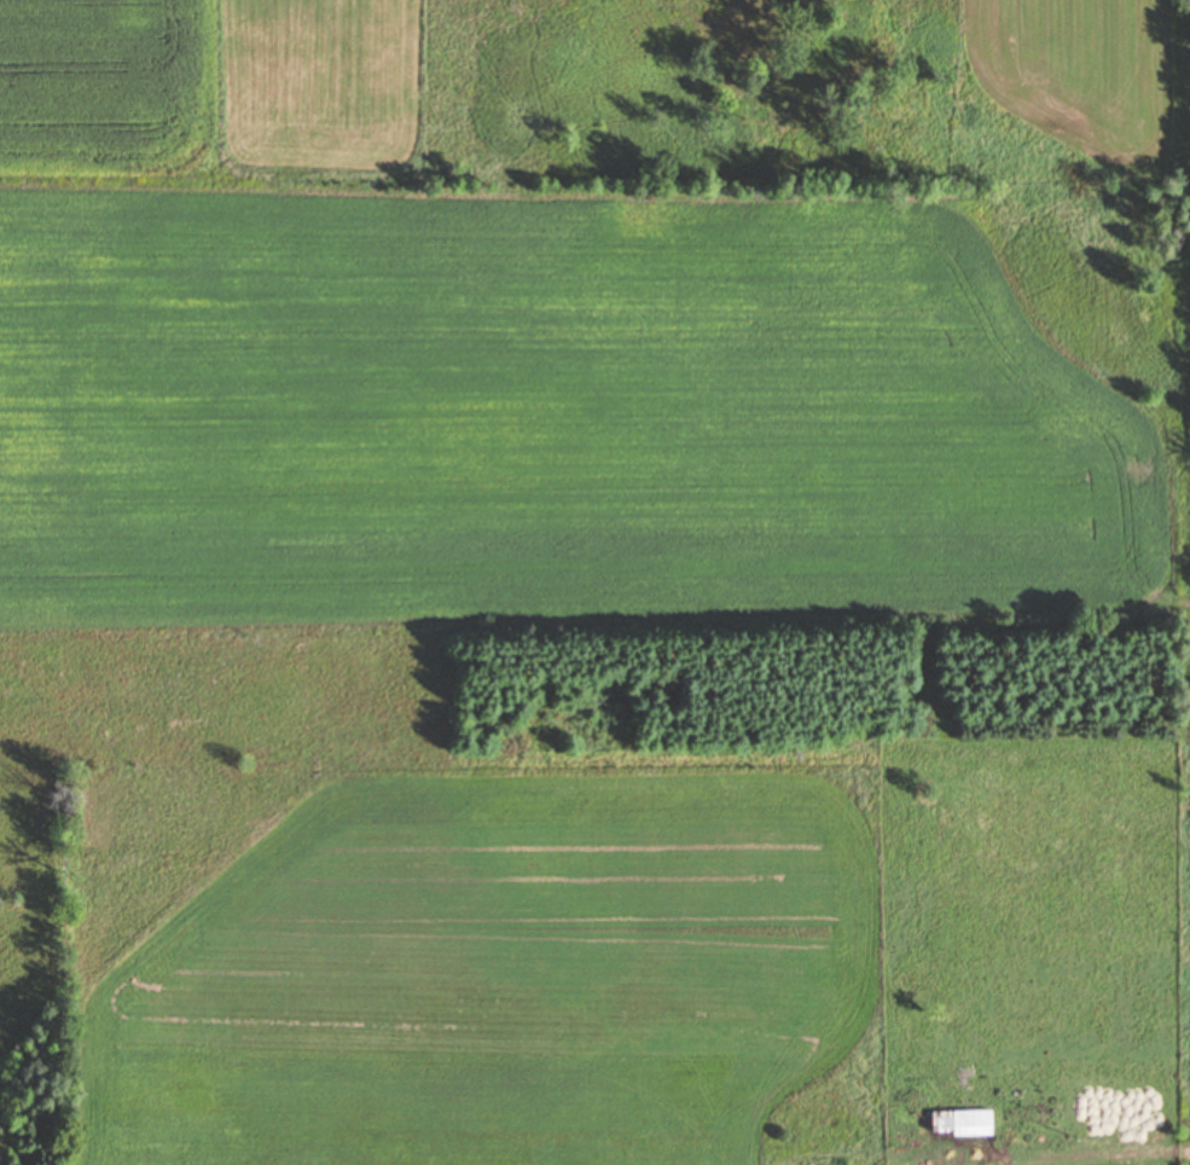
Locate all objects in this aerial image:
building: (980, 1121)

